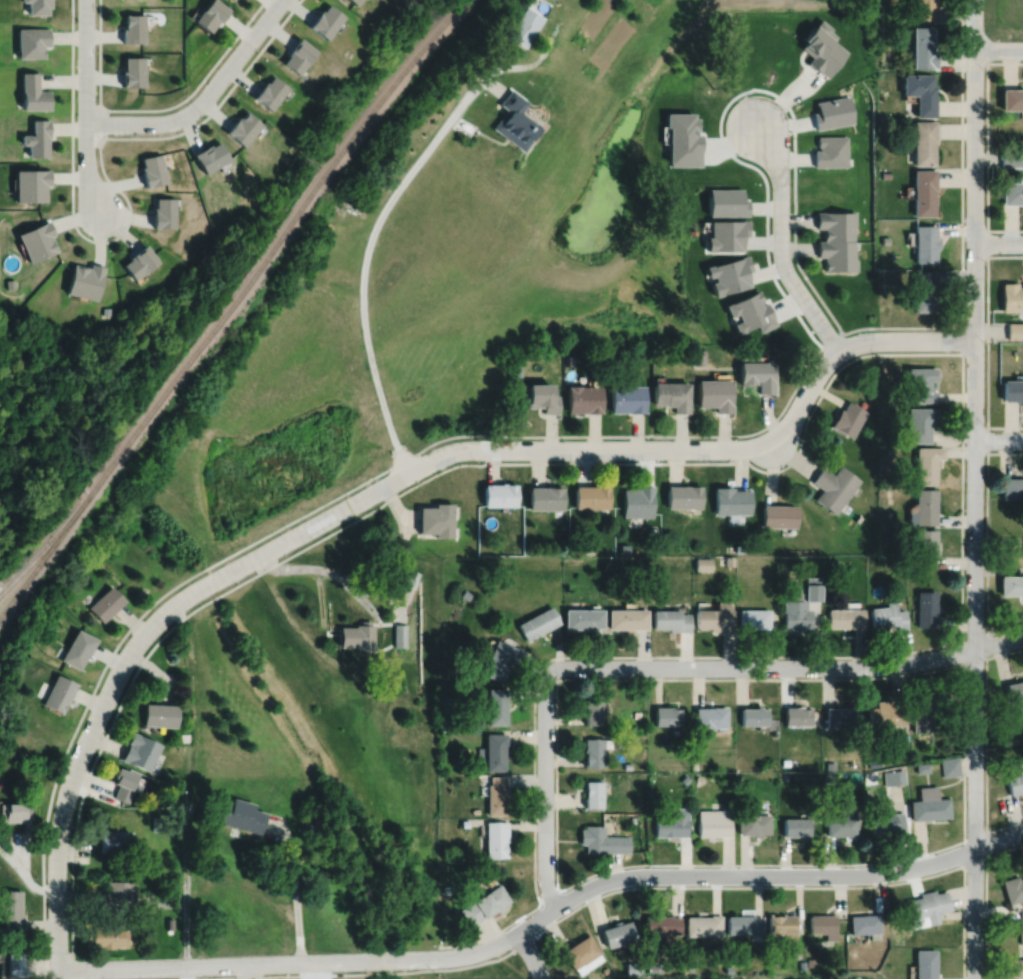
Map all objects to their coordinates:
building: (228, 0)
building: (352, 1)
building: (38, 5)
building: (924, 8)
building: (208, 13)
building: (324, 19)
building: (524, 25)
building: (882, 26)
building: (130, 27)
building: (32, 40)
building: (922, 45)
building: (821, 47)
road: (998, 49)
building: (297, 54)
road: (973, 62)
building: (130, 70)
building: (269, 91)
building: (920, 91)
building: (32, 92)
road: (737, 93)
building: (1010, 98)
road: (203, 99)
road: (218, 103)
road: (85, 107)
road: (152, 108)
building: (832, 111)
building: (514, 120)
building: (242, 127)
building: (37, 137)
building: (679, 138)
building: (923, 141)
road: (987, 144)
building: (830, 150)
building: (208, 155)
building: (1010, 157)
building: (151, 169)
building: (884, 174)
building: (31, 184)
building: (923, 191)
building: (1012, 191)
road: (388, 202)
building: (724, 202)
road: (71, 208)
building: (163, 212)
building: (836, 224)
building: (725, 235)
building: (35, 241)
road: (987, 242)
road: (998, 242)
road: (780, 243)
building: (925, 243)
building: (836, 255)
building: (138, 262)
building: (727, 275)
building: (83, 280)
building: (9, 283)
building: (923, 291)
building: (1011, 297)
railway: (226, 303)
building: (107, 310)
building: (748, 313)
building: (1014, 330)
road: (961, 339)
road: (987, 340)
building: (702, 351)
building: (697, 359)
building: (568, 360)
building: (516, 370)
building: (757, 375)
building: (920, 385)
building: (1011, 391)
building: (713, 395)
building: (670, 396)
building: (539, 398)
building: (582, 399)
building: (626, 399)
building: (848, 419)
building: (919, 424)
road: (521, 435)
road: (987, 439)
road: (998, 439)
road: (579, 448)
building: (889, 450)
building: (927, 461)
road: (961, 470)
building: (840, 477)
building: (1012, 485)
road: (974, 489)
building: (500, 492)
building: (683, 493)
building: (829, 493)
building: (591, 494)
building: (546, 495)
building: (731, 498)
building: (638, 499)
building: (925, 505)
building: (436, 509)
building: (779, 513)
building: (436, 524)
building: (887, 536)
road: (987, 542)
railway: (45, 543)
building: (926, 544)
building: (589, 546)
building: (623, 546)
building: (738, 546)
building: (729, 559)
building: (833, 561)
building: (703, 562)
road: (333, 573)
building: (411, 576)
building: (1011, 583)
building: (812, 586)
building: (464, 593)
road: (320, 597)
building: (105, 601)
building: (928, 608)
building: (795, 612)
building: (888, 614)
building: (715, 615)
building: (582, 616)
building: (753, 616)
building: (845, 616)
building: (627, 617)
building: (670, 618)
building: (537, 621)
building: (399, 633)
building: (356, 634)
road: (986, 643)
building: (76, 647)
road: (572, 656)
building: (498, 658)
road: (789, 666)
building: (1014, 688)
building: (57, 692)
building: (495, 705)
building: (593, 709)
building: (923, 709)
building: (636, 713)
building: (159, 714)
building: (666, 714)
building: (797, 714)
building: (753, 715)
building: (841, 715)
building: (885, 715)
building: (710, 716)
building: (185, 736)
road: (986, 744)
building: (461, 749)
building: (139, 750)
building: (493, 750)
building: (594, 750)
building: (784, 761)
building: (873, 761)
building: (830, 764)
building: (627, 765)
building: (695, 765)
building: (949, 765)
building: (922, 766)
building: (784, 775)
building: (828, 775)
building: (893, 776)
building: (684, 778)
building: (1015, 778)
road: (70, 779)
building: (121, 783)
road: (545, 787)
building: (593, 793)
building: (496, 794)
building: (929, 803)
building: (13, 811)
building: (238, 814)
building: (632, 818)
building: (672, 821)
building: (713, 821)
building: (156, 822)
building: (463, 822)
building: (887, 822)
building: (754, 823)
building: (842, 823)
building: (796, 826)
building: (495, 837)
building: (602, 840)
building: (114, 841)
road: (24, 876)
road: (624, 887)
road: (294, 888)
building: (446, 888)
building: (1012, 888)
road: (185, 889)
building: (116, 895)
road: (549, 896)
road: (986, 897)
building: (483, 904)
building: (928, 907)
building: (1021, 911)
building: (11, 912)
road: (542, 915)
building: (662, 924)
building: (744, 924)
building: (865, 924)
building: (704, 925)
building: (782, 925)
building: (823, 925)
building: (1021, 934)
building: (620, 935)
building: (104, 936)
road: (531, 954)
building: (582, 954)
building: (16, 963)
building: (927, 964)
building: (633, 967)
building: (653, 967)
building: (1013, 968)
building: (605, 969)
building: (728, 969)
road: (185, 972)

